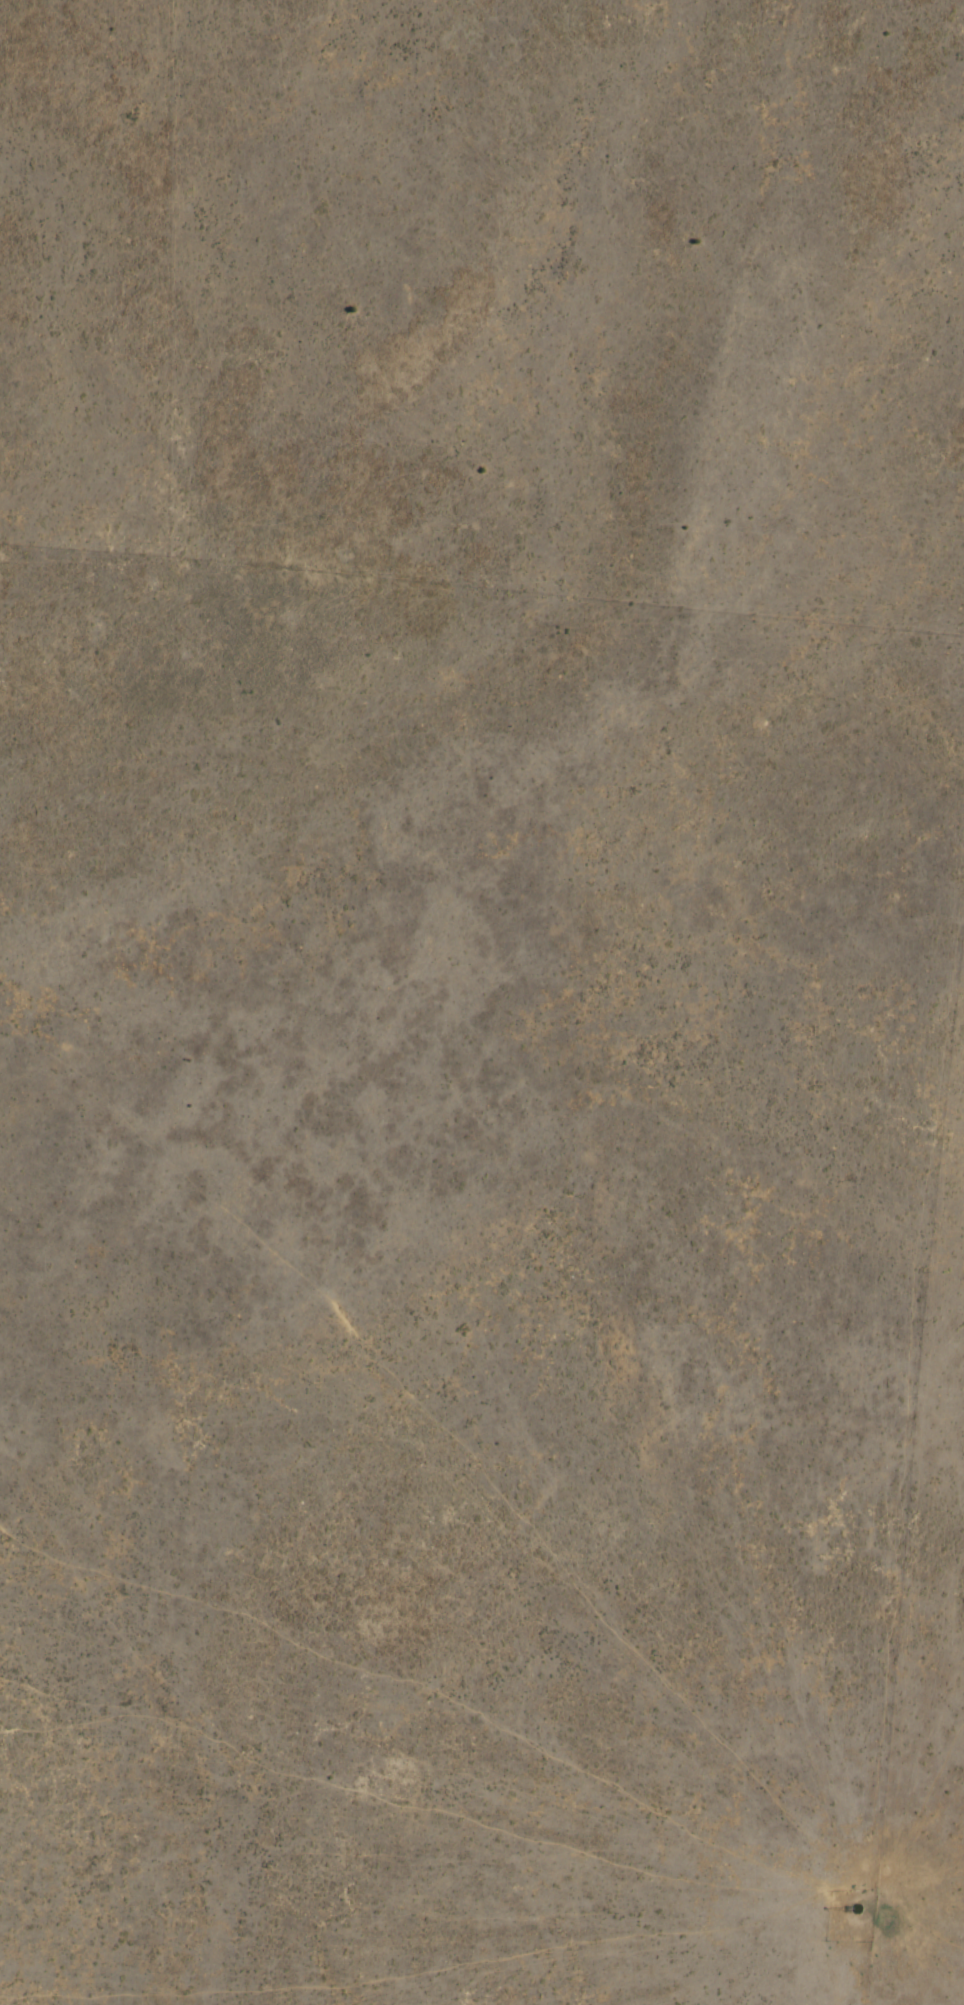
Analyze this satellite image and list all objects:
road: (871, 1917)

